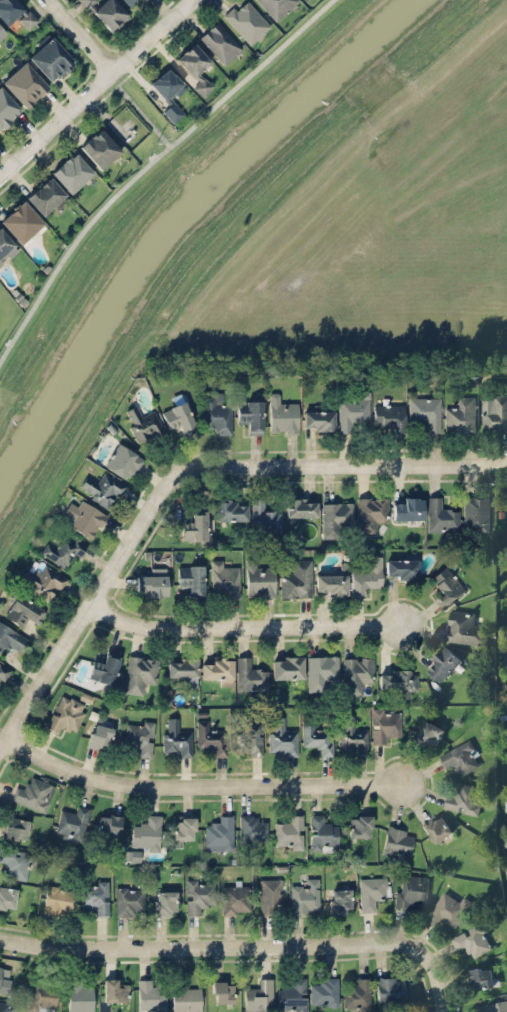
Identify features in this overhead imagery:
building: (140, 0)
building: (127, 1)
building: (87, 2)
building: (276, 6)
building: (9, 9)
building: (110, 14)
building: (27, 18)
building: (246, 20)
building: (1, 32)
road: (80, 35)
building: (220, 42)
building: (51, 59)
building: (195, 66)
building: (25, 83)
road: (95, 87)
building: (169, 94)
building: (7, 108)
road: (139, 111)
building: (119, 128)
building: (100, 147)
road: (148, 166)
building: (71, 171)
building: (45, 195)
building: (22, 221)
river: (183, 223)
building: (5, 244)
building: (353, 409)
building: (425, 409)
building: (216, 412)
building: (495, 413)
building: (250, 414)
building: (460, 414)
building: (282, 415)
building: (389, 415)
building: (179, 418)
building: (319, 418)
building: (143, 424)
building: (122, 460)
road: (179, 477)
building: (102, 488)
building: (301, 507)
building: (407, 508)
building: (231, 509)
building: (475, 512)
building: (370, 513)
building: (441, 515)
building: (335, 516)
building: (265, 517)
building: (83, 518)
building: (194, 527)
building: (64, 549)
building: (401, 568)
building: (224, 578)
building: (296, 578)
building: (364, 578)
building: (191, 579)
building: (259, 579)
building: (42, 581)
building: (152, 582)
building: (331, 584)
building: (445, 585)
building: (24, 610)
road: (245, 627)
building: (464, 627)
building: (11, 638)
building: (442, 662)
building: (287, 666)
building: (104, 668)
building: (217, 669)
building: (183, 670)
building: (3, 671)
building: (320, 671)
building: (139, 673)
building: (357, 673)
building: (251, 675)
building: (399, 681)
building: (66, 713)
building: (384, 726)
building: (428, 732)
building: (99, 734)
building: (352, 735)
building: (139, 736)
building: (251, 736)
building: (281, 736)
building: (176, 737)
building: (211, 737)
building: (317, 737)
building: (459, 757)
road: (200, 784)
building: (33, 793)
building: (464, 798)
building: (506, 802)
building: (73, 823)
building: (108, 824)
building: (359, 825)
building: (437, 827)
building: (16, 828)
building: (252, 828)
building: (289, 828)
building: (182, 829)
building: (147, 832)
building: (219, 833)
building: (322, 833)
building: (505, 838)
building: (398, 840)
building: (16, 863)
building: (410, 891)
building: (372, 892)
building: (199, 894)
building: (271, 895)
building: (304, 895)
building: (94, 896)
building: (7, 897)
building: (235, 898)
building: (57, 899)
building: (339, 899)
building: (129, 901)
building: (165, 902)
building: (448, 908)
building: (473, 939)
road: (248, 943)
building: (482, 976)
building: (4, 977)
building: (115, 989)
building: (222, 991)
building: (389, 991)
building: (324, 992)
building: (357, 993)
building: (80, 996)
building: (150, 996)
building: (258, 996)
building: (291, 996)
building: (41, 997)
building: (186, 998)
building: (6, 1006)
building: (493, 1006)

